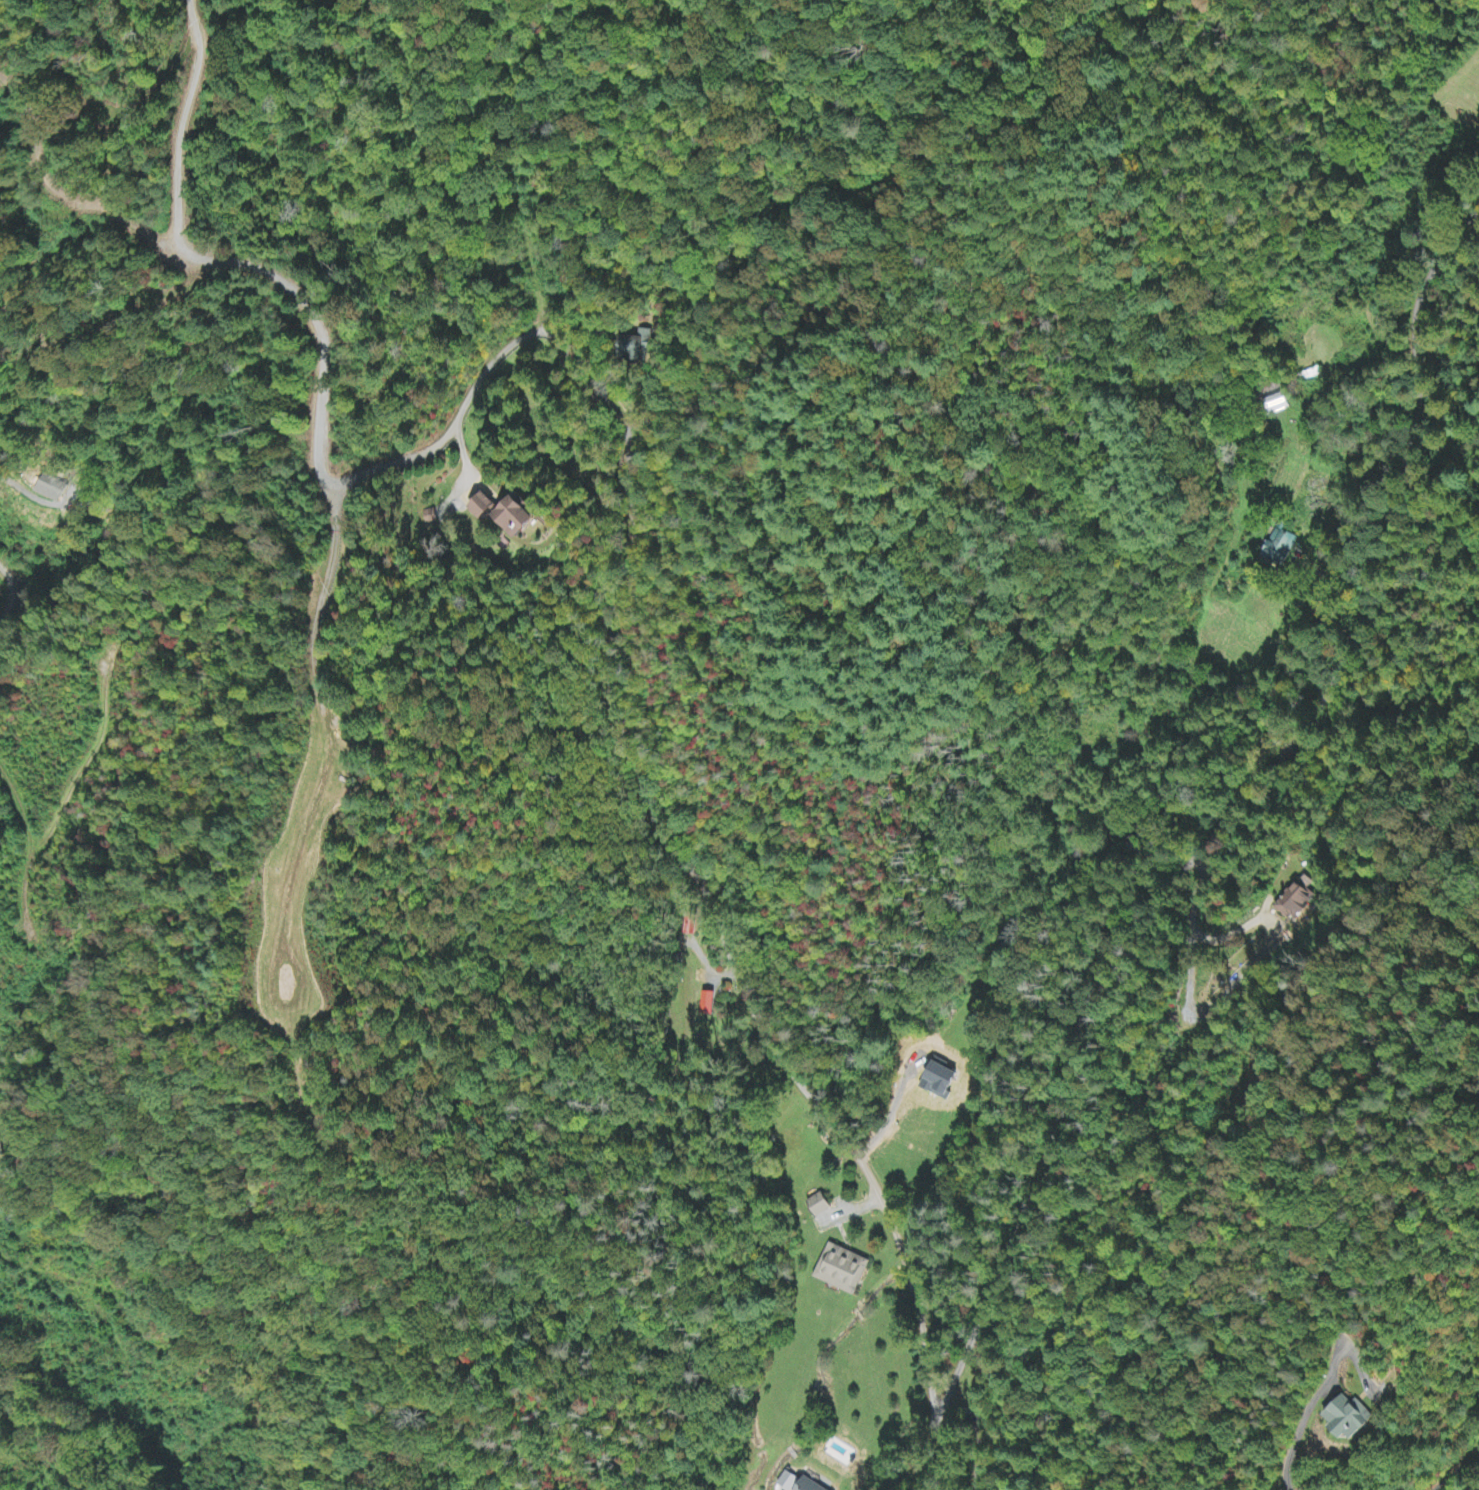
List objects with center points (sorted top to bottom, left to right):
road: (307, 320)
road: (491, 366)
building: (487, 508)
building: (525, 520)
building: (1281, 549)
road: (1221, 798)
building: (1296, 898)
building: (707, 1004)
road: (752, 1009)
building: (0, 1152)
building: (817, 1206)
building: (844, 1270)
building: (1352, 1418)
road: (961, 1423)
building: (789, 1482)
building: (809, 1485)

